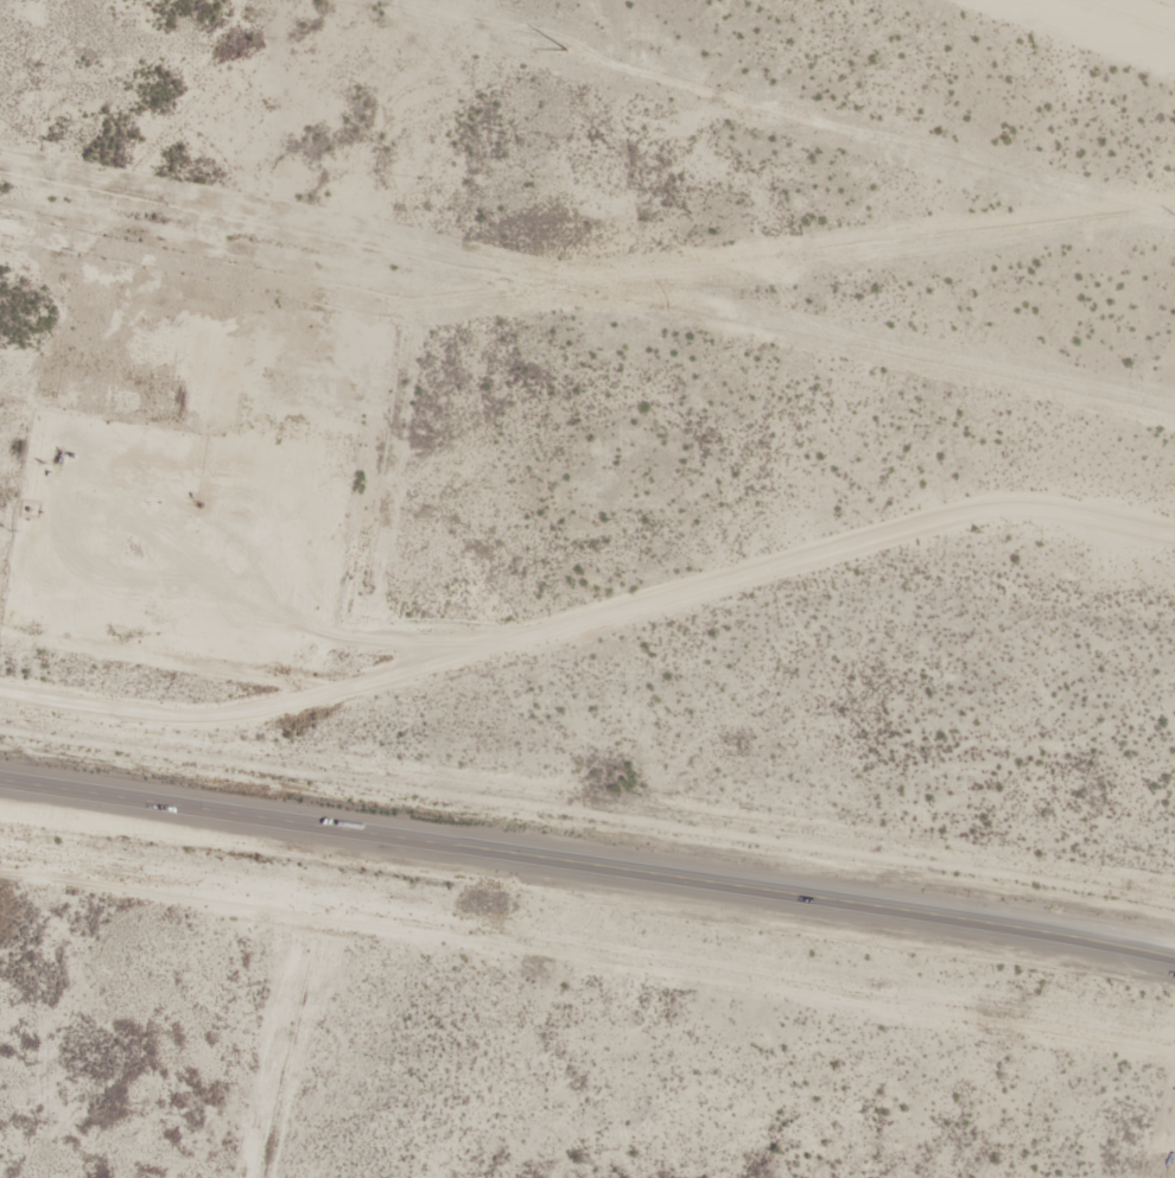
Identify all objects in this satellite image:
road: (587, 865)

